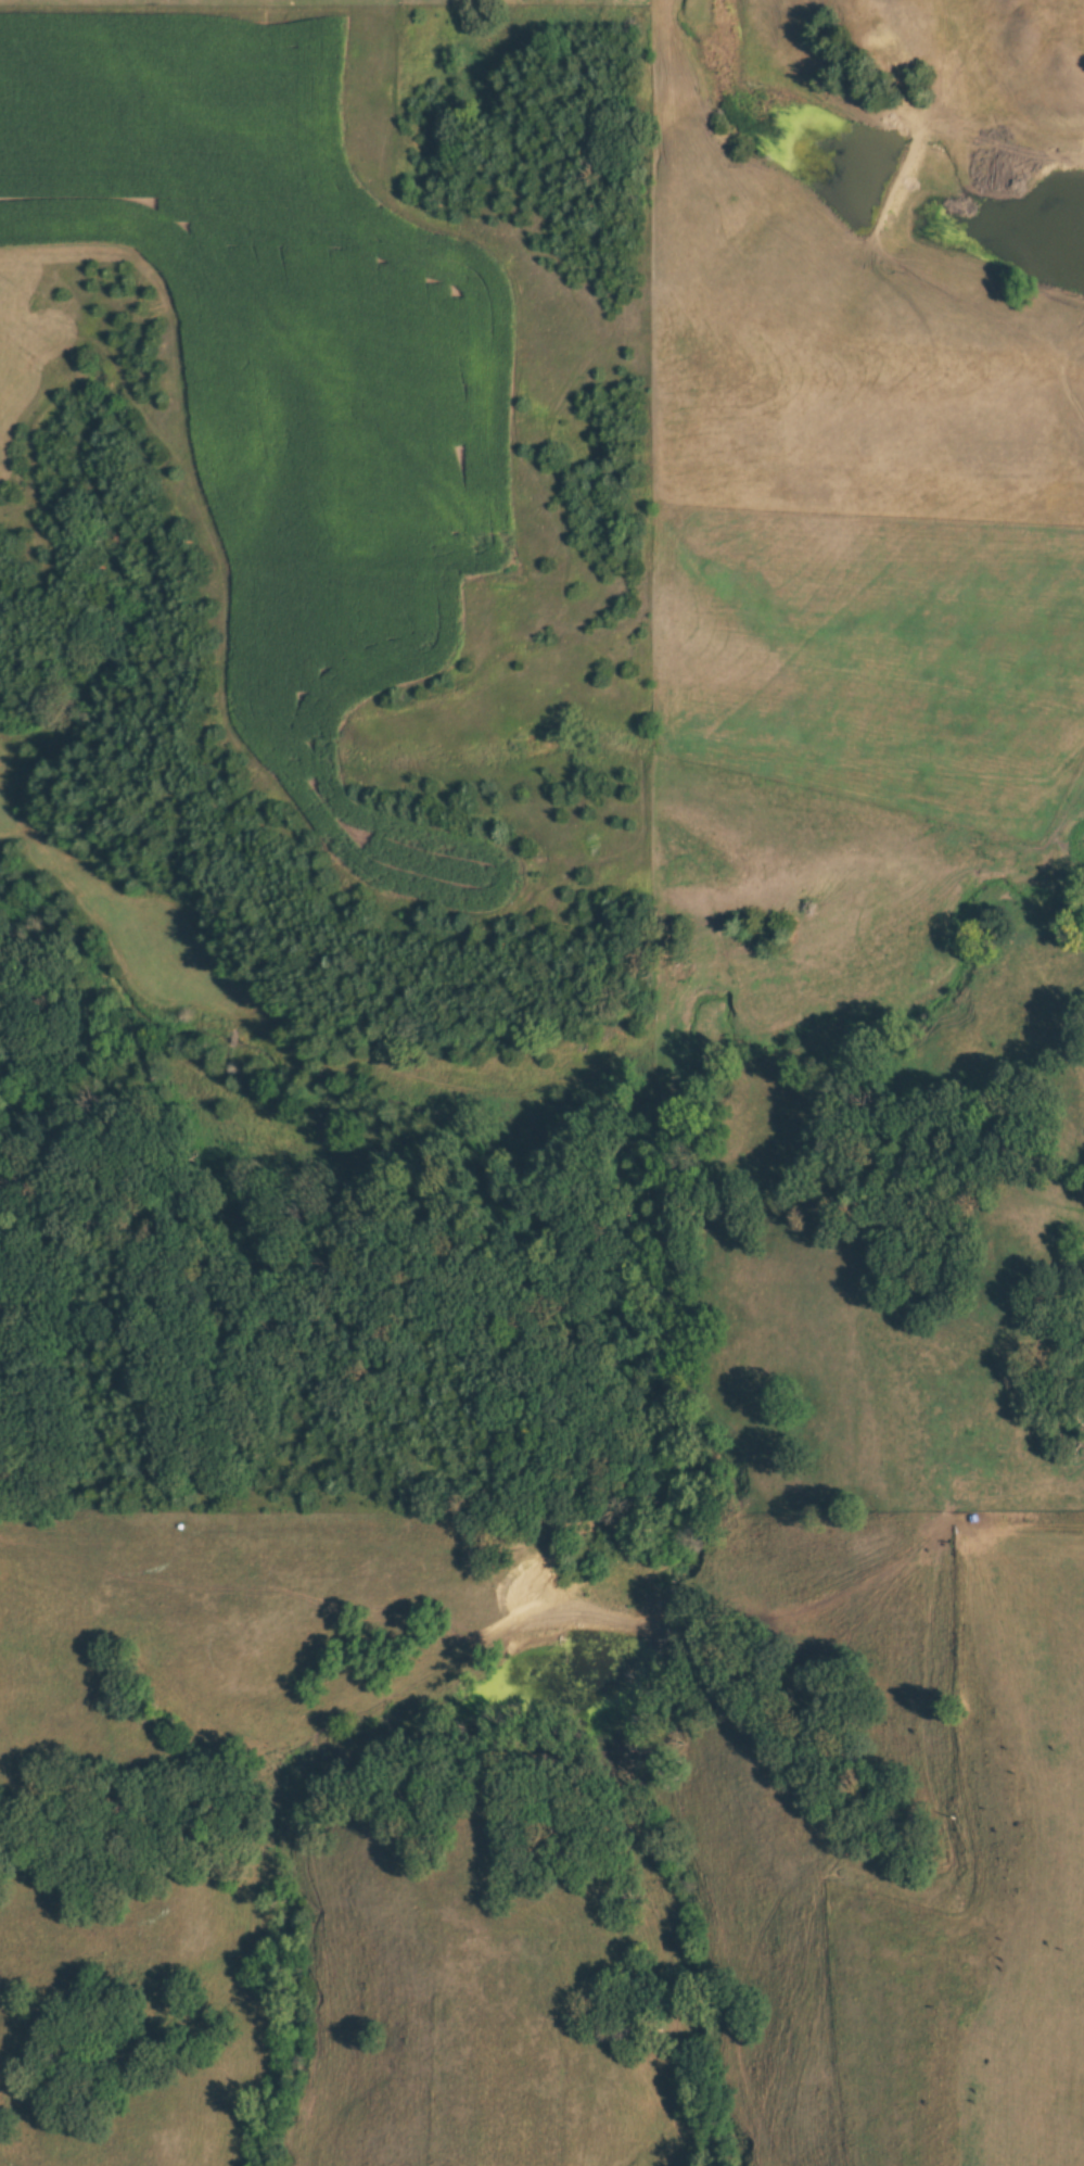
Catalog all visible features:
crop: (272, 282)

